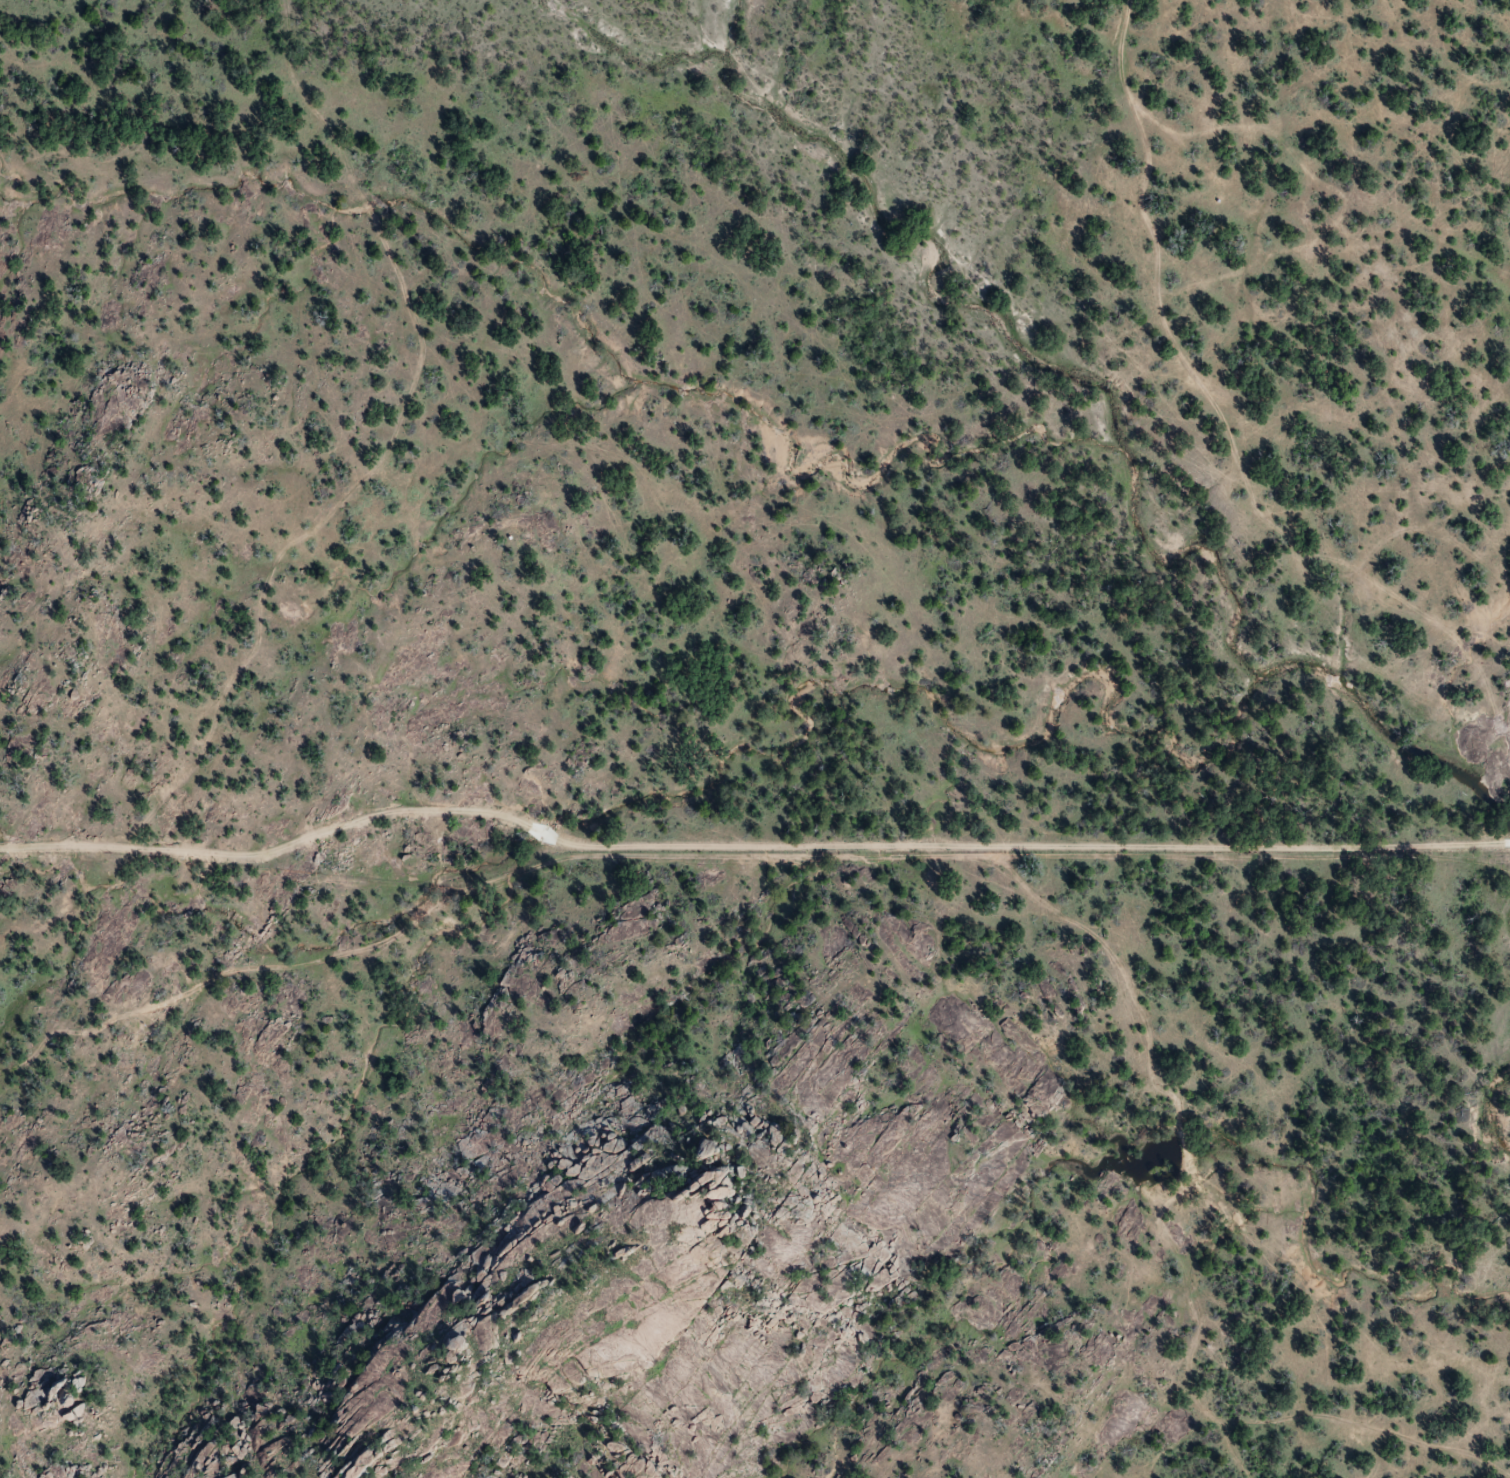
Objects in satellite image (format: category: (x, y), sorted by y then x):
road: (748, 848)

